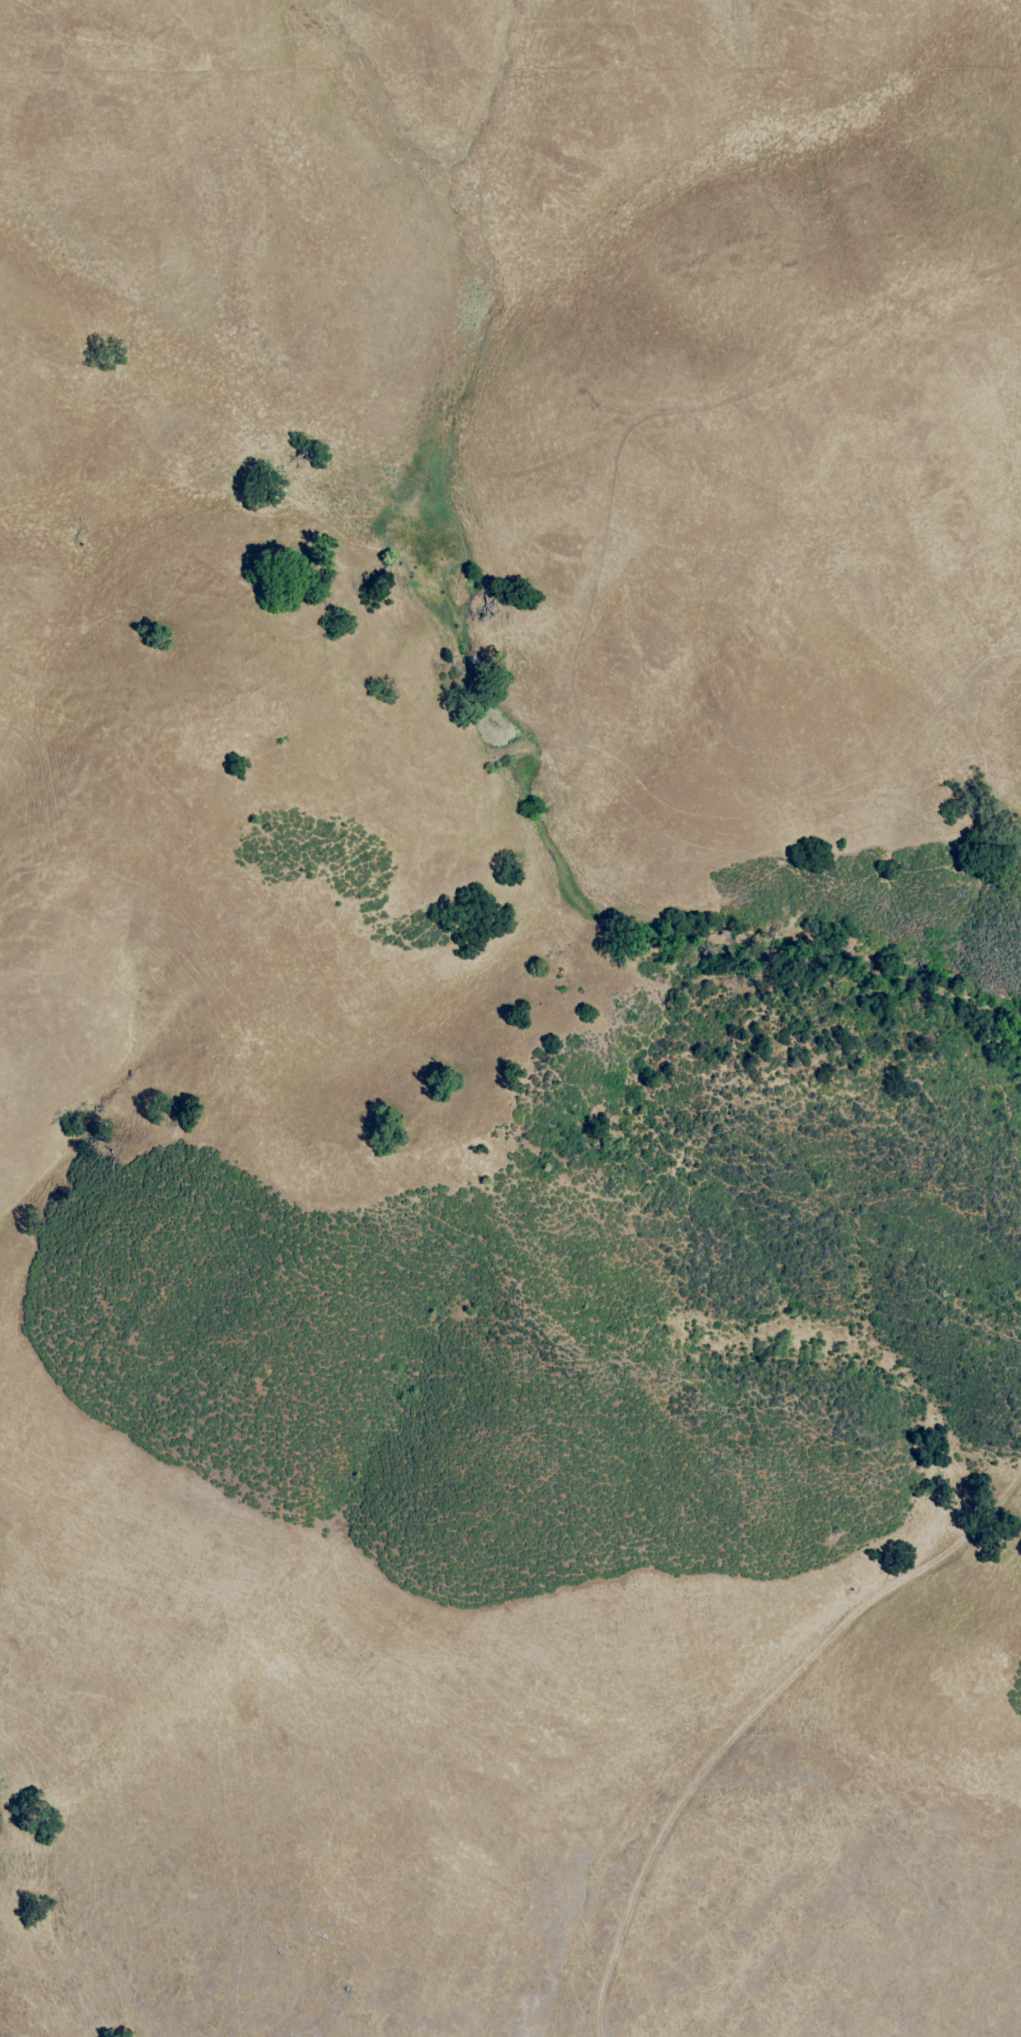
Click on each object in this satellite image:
road: (602, 1978)

